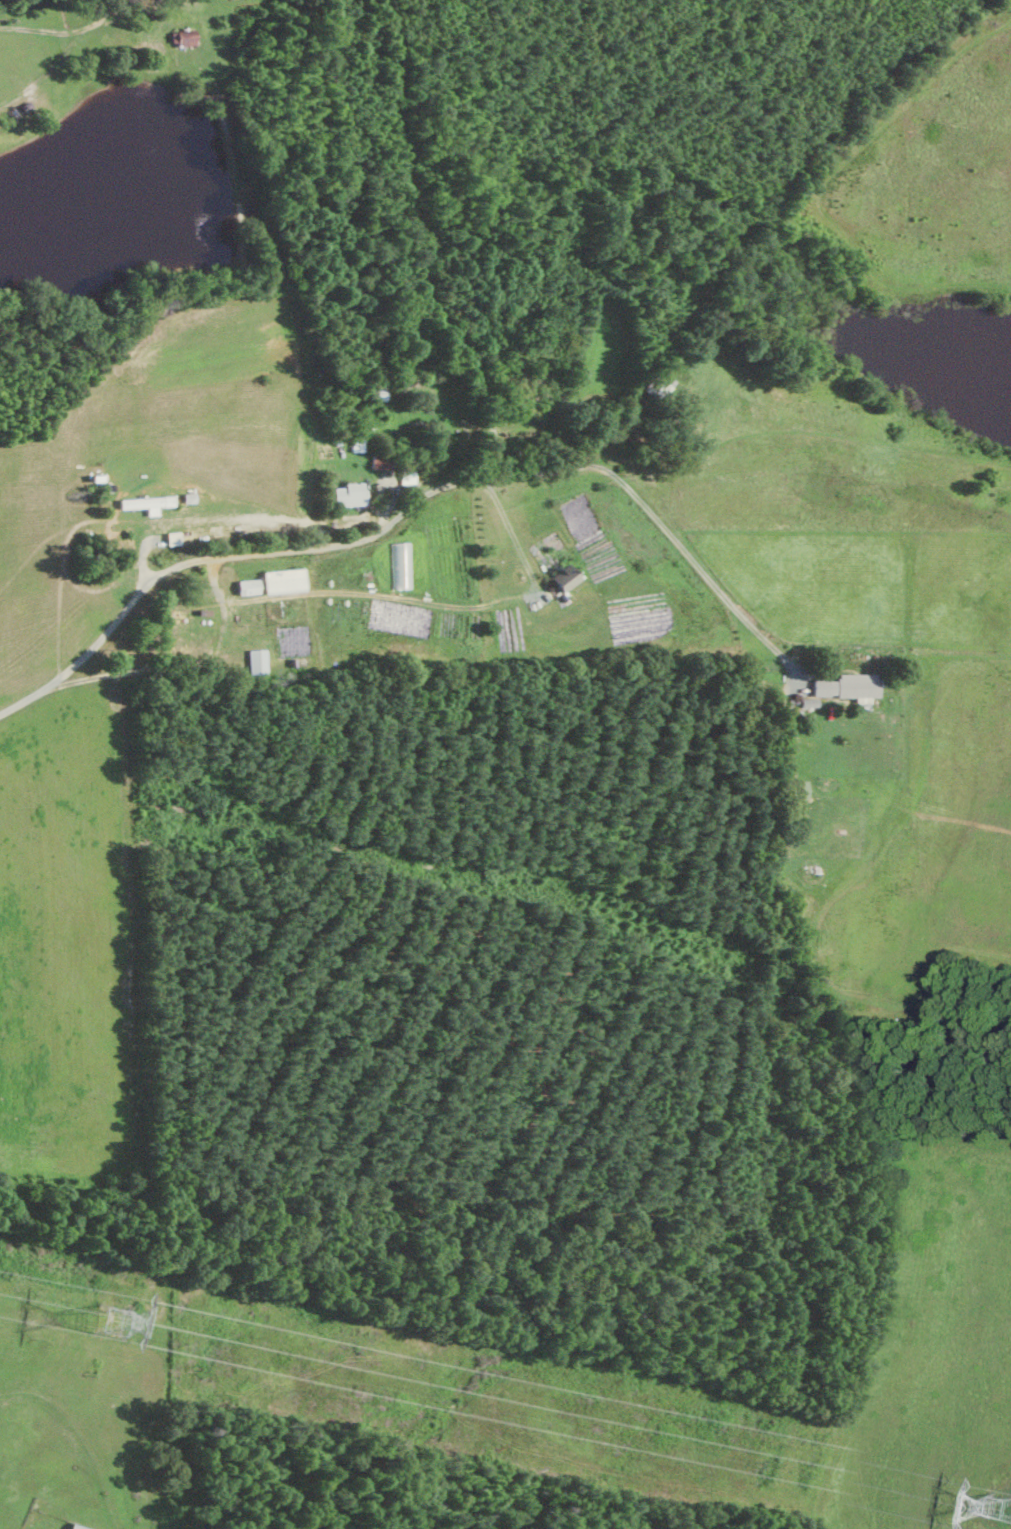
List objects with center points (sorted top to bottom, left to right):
road: (22, 20)
road: (416, 256)
building: (351, 495)
building: (149, 504)
road: (512, 532)
road: (285, 551)
road: (699, 566)
building: (259, 661)
road: (185, 665)
building: (843, 686)
power tower: (110, 1321)
power tower: (1004, 1508)

